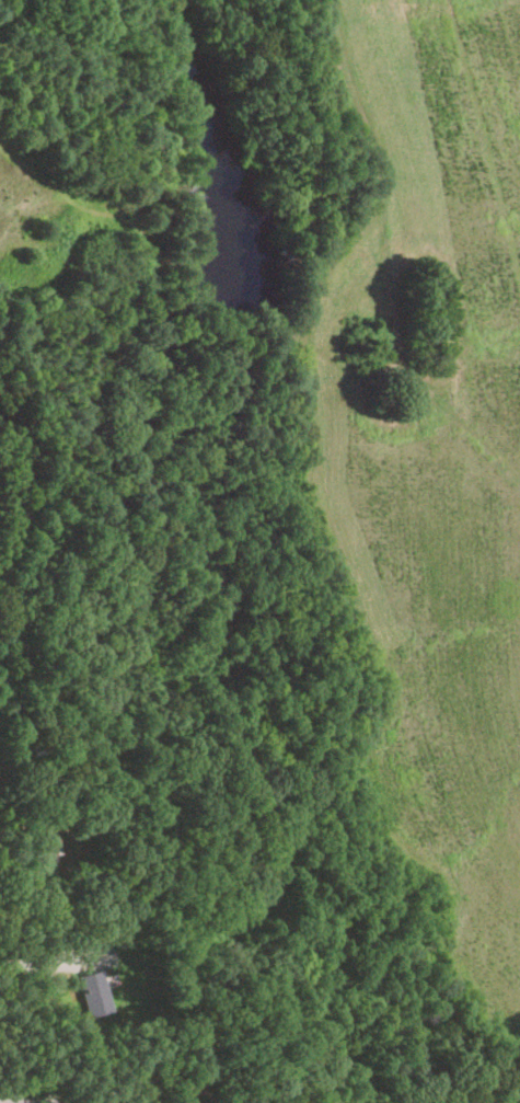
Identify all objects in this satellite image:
building: (41, 836)
road: (31, 964)
building: (91, 992)
road: (69, 1099)

